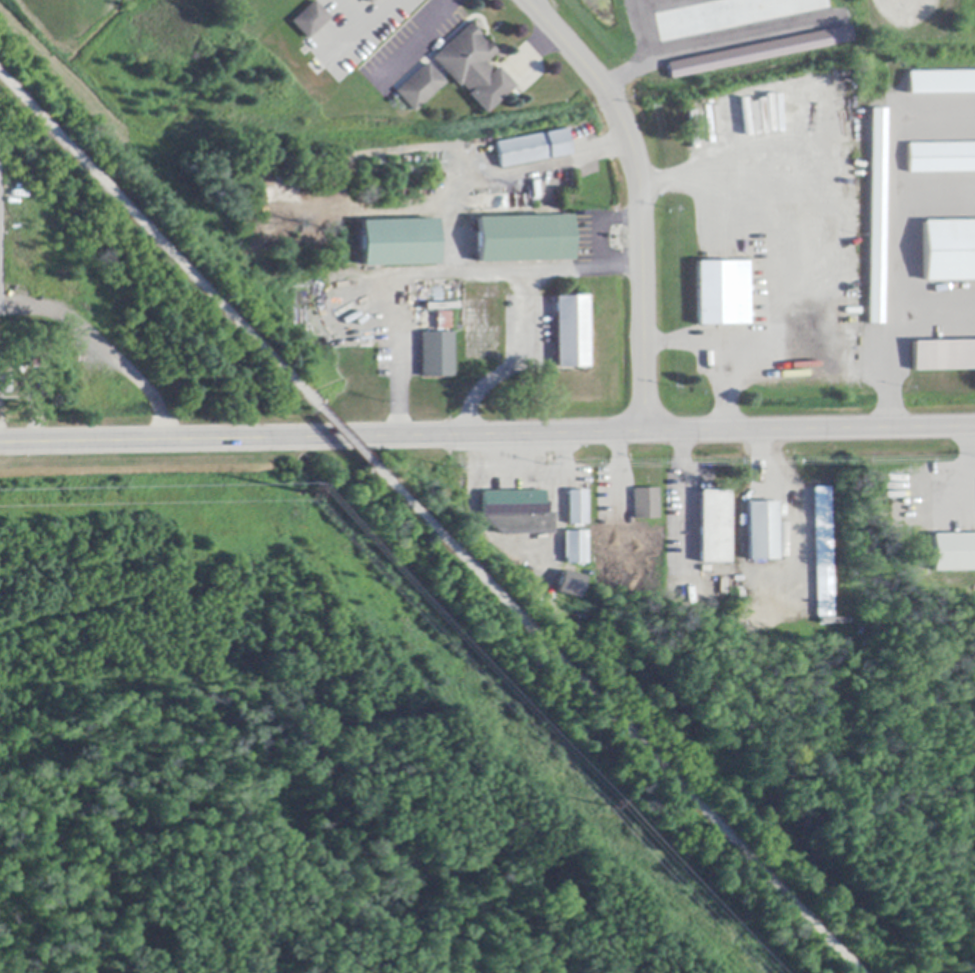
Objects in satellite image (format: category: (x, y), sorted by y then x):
building: (370, 2)
building: (311, 20)
road: (366, 26)
road: (414, 40)
building: (757, 51)
building: (473, 69)
building: (940, 80)
building: (421, 88)
building: (532, 149)
building: (941, 158)
road: (638, 198)
building: (875, 215)
road: (154, 238)
building: (525, 240)
building: (399, 243)
road: (594, 243)
building: (948, 251)
road: (894, 273)
building: (722, 294)
building: (571, 332)
road: (104, 345)
road: (718, 350)
building: (39, 354)
building: (436, 355)
building: (943, 356)
road: (807, 360)
building: (6, 384)
road: (487, 434)
road: (345, 437)
road: (964, 449)
power tower: (304, 493)
road: (682, 494)
building: (645, 504)
building: (576, 508)
building: (517, 512)
building: (714, 527)
building: (761, 531)
building: (575, 548)
building: (822, 553)
building: (953, 553)
building: (570, 583)
road: (620, 725)
power tower: (608, 806)

